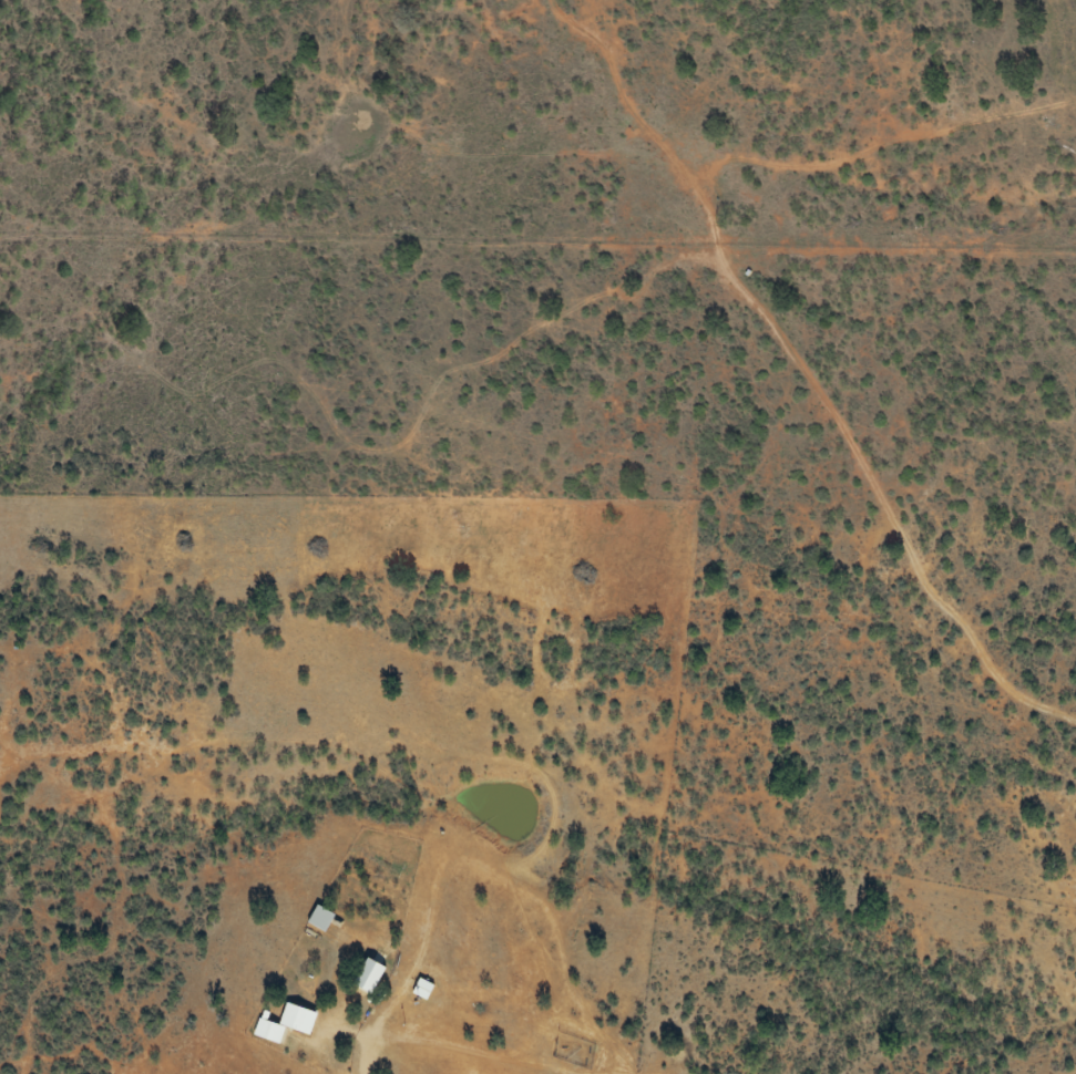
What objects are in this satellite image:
building: (320, 918)
building: (287, 1023)

